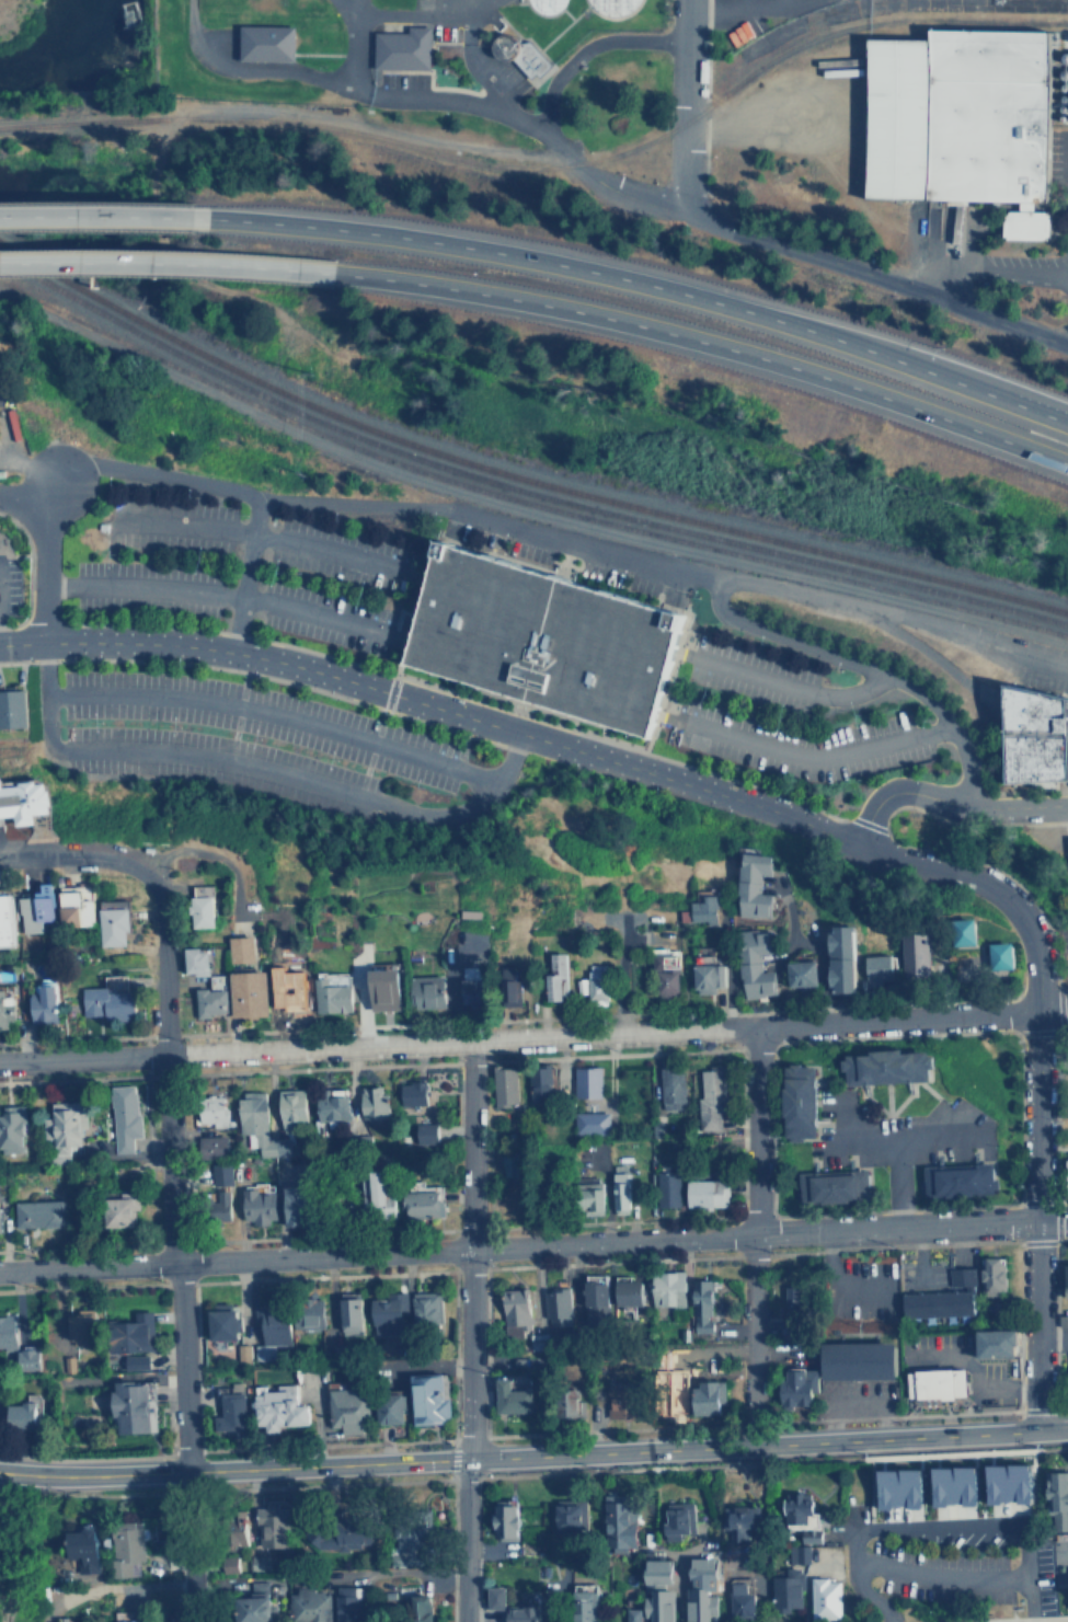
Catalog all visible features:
road: (446, 7)
building: (542, 7)
storage tank: (542, 7)
building: (609, 7)
storage tank: (609, 7)
road: (344, 12)
road: (421, 14)
park: (15, 19)
building: (262, 44)
road: (353, 44)
building: (401, 48)
building: (519, 56)
road: (473, 61)
wastewater plant: (439, 64)
road: (245, 69)
parking lot: (402, 80)
road: (675, 100)
road: (449, 102)
road: (544, 111)
building: (956, 116)
railway: (549, 146)
road: (105, 206)
road: (173, 264)
road: (872, 265)
road: (1006, 275)
road: (647, 280)
road: (942, 280)
railway: (105, 333)
road: (712, 347)
railway: (516, 475)
railway: (517, 486)
road: (38, 496)
parking lot: (168, 524)
railway: (634, 527)
road: (260, 536)
road: (564, 540)
parking lot: (341, 553)
road: (39, 557)
road: (243, 568)
parking lot: (8, 583)
parking lot: (148, 586)
road: (218, 594)
parking lot: (326, 614)
building: (540, 639)
parking lot: (747, 669)
road: (796, 688)
building: (14, 705)
building: (3, 708)
road: (275, 716)
parking lot: (264, 718)
building: (1033, 738)
parking lot: (793, 740)
road: (571, 746)
road: (817, 756)
parking lot: (215, 763)
road: (256, 769)
building: (28, 795)
road: (949, 801)
building: (1067, 850)
road: (83, 855)
building: (751, 882)
building: (76, 908)
building: (35, 909)
building: (197, 909)
building: (700, 909)
building: (7, 920)
building: (113, 921)
building: (961, 929)
building: (238, 947)
building: (915, 951)
parking lot: (1065, 953)
building: (998, 954)
building: (840, 955)
building: (192, 957)
building: (754, 963)
building: (874, 967)
road: (160, 971)
building: (707, 971)
building: (800, 971)
building: (664, 973)
building: (554, 976)
building: (596, 983)
building: (508, 985)
building: (577, 985)
building: (378, 987)
building: (426, 990)
building: (245, 991)
building: (472, 991)
building: (330, 993)
building: (209, 997)
building: (282, 997)
building: (110, 999)
building: (44, 1004)
building: (5, 1009)
road: (1050, 1012)
road: (517, 1039)
building: (882, 1065)
building: (541, 1082)
building: (588, 1082)
building: (505, 1085)
building: (673, 1089)
building: (414, 1093)
building: (795, 1100)
building: (710, 1101)
building: (374, 1104)
building: (292, 1107)
building: (333, 1107)
building: (214, 1111)
building: (124, 1117)
road: (1034, 1117)
building: (592, 1123)
building: (260, 1126)
building: (65, 1127)
building: (12, 1129)
building: (426, 1132)
parking lot: (895, 1134)
road: (892, 1140)
building: (214, 1147)
road: (1044, 1148)
road: (165, 1162)
building: (222, 1174)
building: (950, 1177)
road: (896, 1184)
building: (621, 1187)
building: (669, 1187)
building: (828, 1187)
building: (710, 1193)
building: (594, 1195)
building: (382, 1196)
building: (424, 1204)
building: (225, 1205)
building: (260, 1206)
building: (299, 1206)
building: (120, 1211)
building: (39, 1213)
building: (1, 1220)
road: (1050, 1221)
road: (753, 1234)
road: (516, 1247)
road: (468, 1251)
building: (961, 1274)
building: (990, 1276)
building: (1065, 1284)
building: (666, 1288)
building: (625, 1292)
building: (700, 1299)
building: (797, 1299)
building: (934, 1302)
building: (593, 1303)
building: (554, 1308)
building: (513, 1309)
building: (348, 1312)
building: (425, 1312)
building: (309, 1313)
building: (384, 1313)
building: (1064, 1320)
building: (219, 1323)
building: (271, 1326)
road: (1034, 1326)
building: (78, 1327)
building: (128, 1331)
building: (7, 1332)
building: (995, 1341)
building: (710, 1348)
building: (242, 1353)
building: (28, 1359)
building: (854, 1359)
building: (137, 1361)
road: (972, 1368)
building: (670, 1378)
building: (933, 1382)
building: (793, 1388)
building: (426, 1397)
building: (508, 1397)
building: (707, 1397)
building: (563, 1399)
building: (620, 1401)
building: (387, 1406)
building: (131, 1407)
building: (228, 1410)
building: (276, 1410)
building: (22, 1411)
building: (346, 1411)
road: (183, 1446)
road: (533, 1456)
building: (1020, 1477)
building: (966, 1481)
building: (911, 1483)
building: (1057, 1500)
building: (800, 1509)
building: (572, 1514)
building: (507, 1520)
building: (679, 1520)
building: (621, 1521)
building: (742, 1522)
building: (274, 1527)
road: (951, 1529)
building: (240, 1535)
building: (812, 1537)
road: (464, 1541)
building: (410, 1542)
building: (127, 1549)
building: (84, 1550)
building: (799, 1554)
building: (230, 1564)
parking lot: (935, 1578)
road: (938, 1579)
building: (704, 1589)
building: (789, 1590)
building: (661, 1591)
road: (862, 1594)
building: (384, 1597)
building: (497, 1598)
building: (826, 1598)
building: (742, 1601)
building: (259, 1602)
building: (586, 1602)
road: (1027, 1602)
building: (310, 1604)
building: (349, 1604)
building: (421, 1609)
building: (521, 1614)
building: (634, 1614)
building: (133, 1621)

